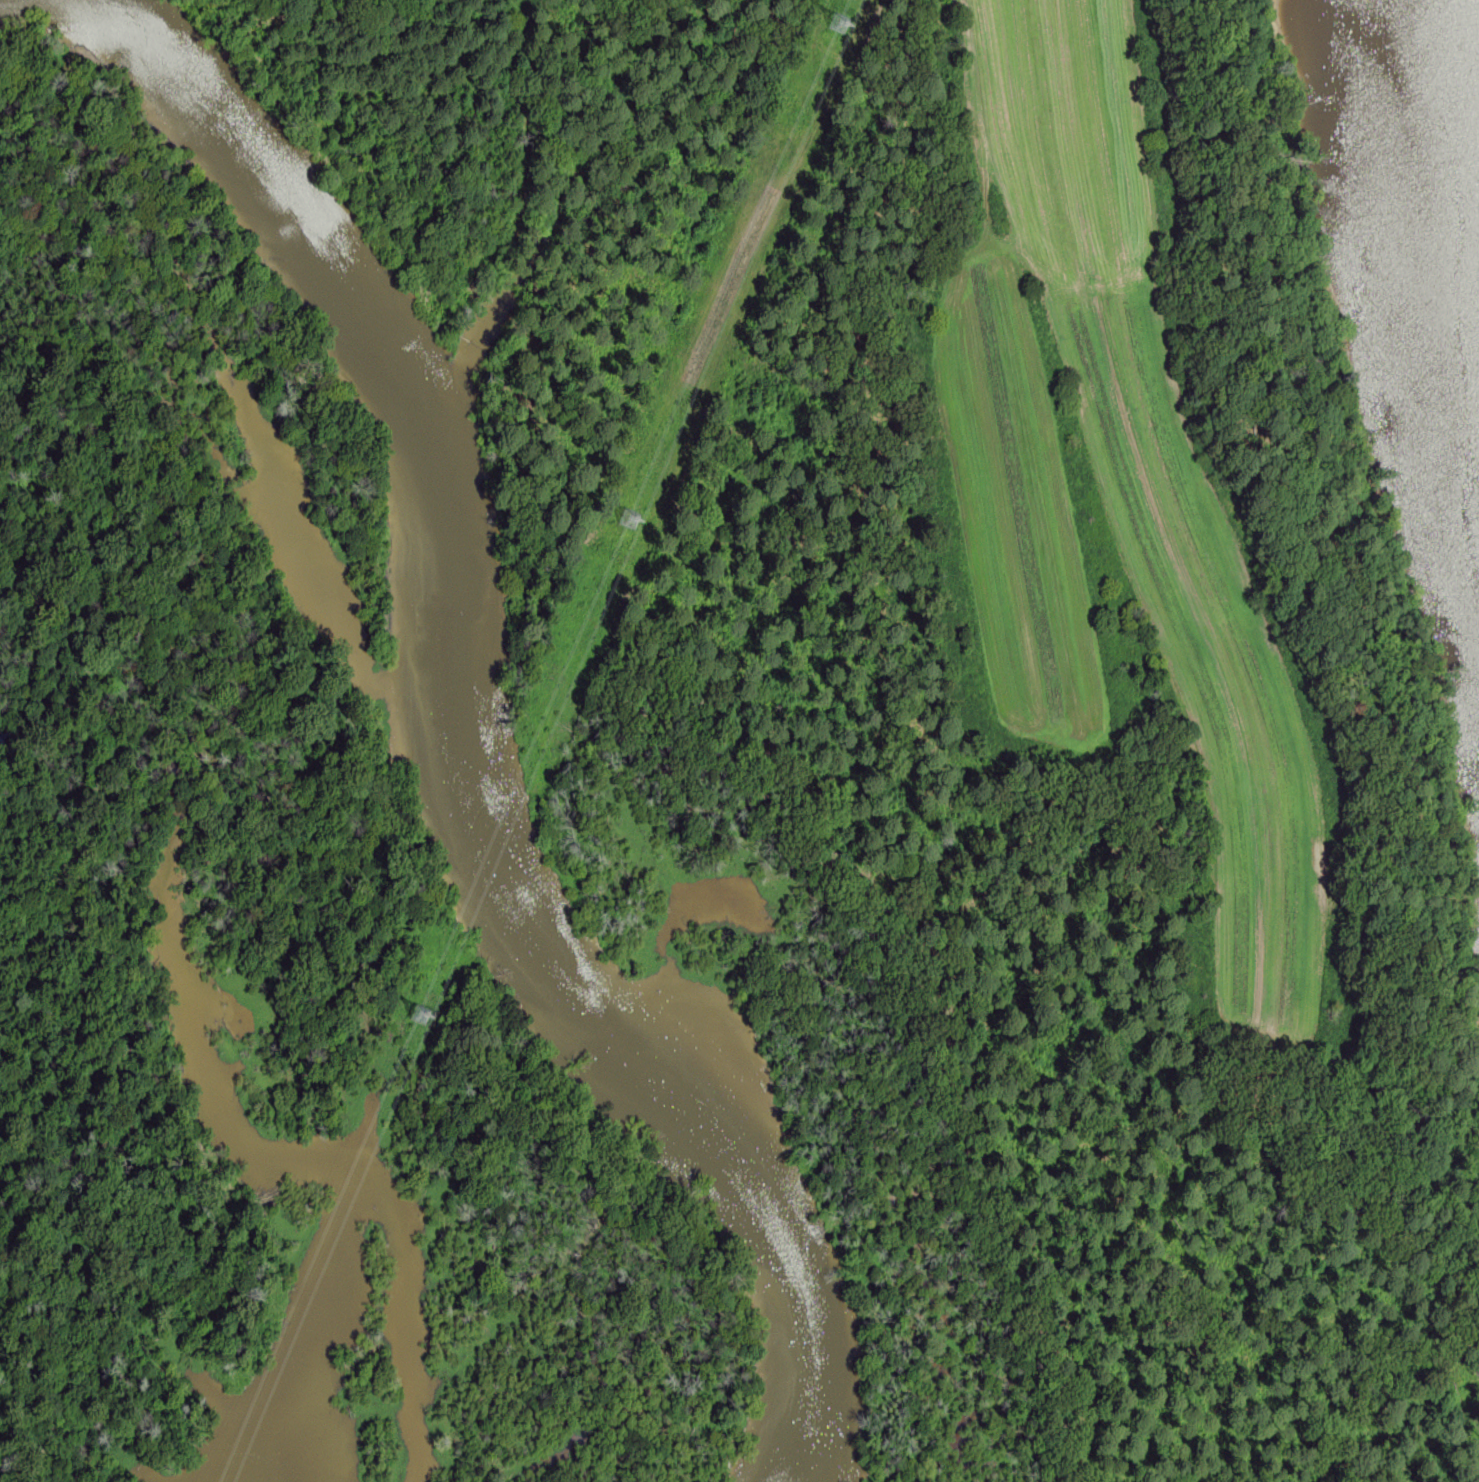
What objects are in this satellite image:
road: (1258, 6)
power tower: (829, 25)
power tower: (619, 521)
river: (493, 755)
power tower: (412, 1014)

